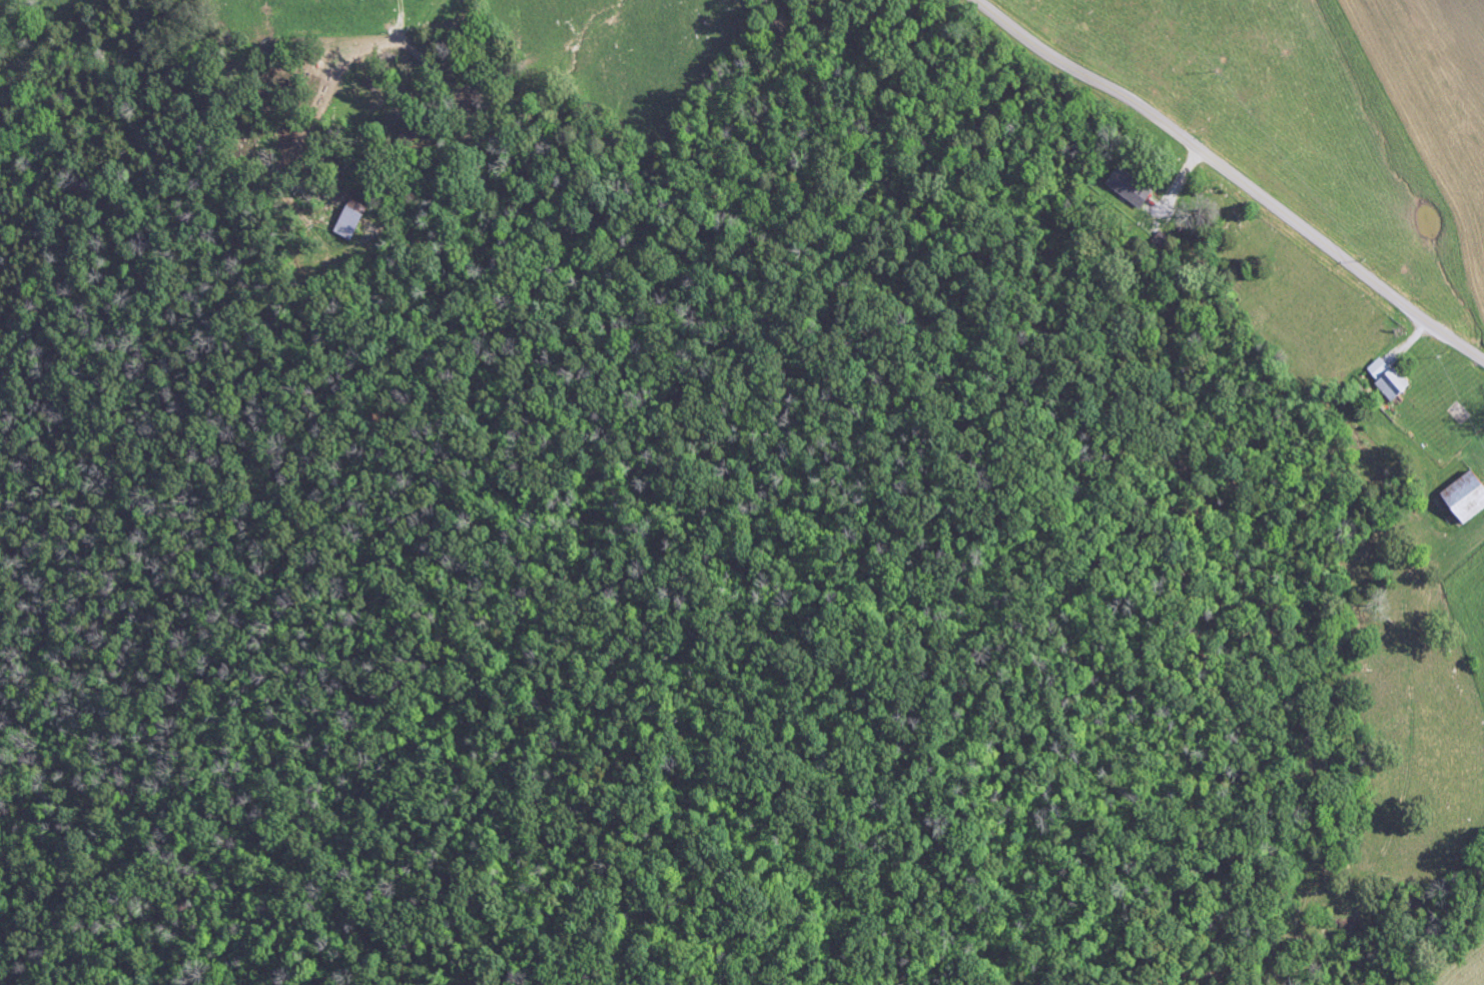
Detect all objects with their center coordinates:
road: (1233, 175)
building: (1133, 188)
building: (353, 224)
building: (1391, 380)
building: (1469, 496)

